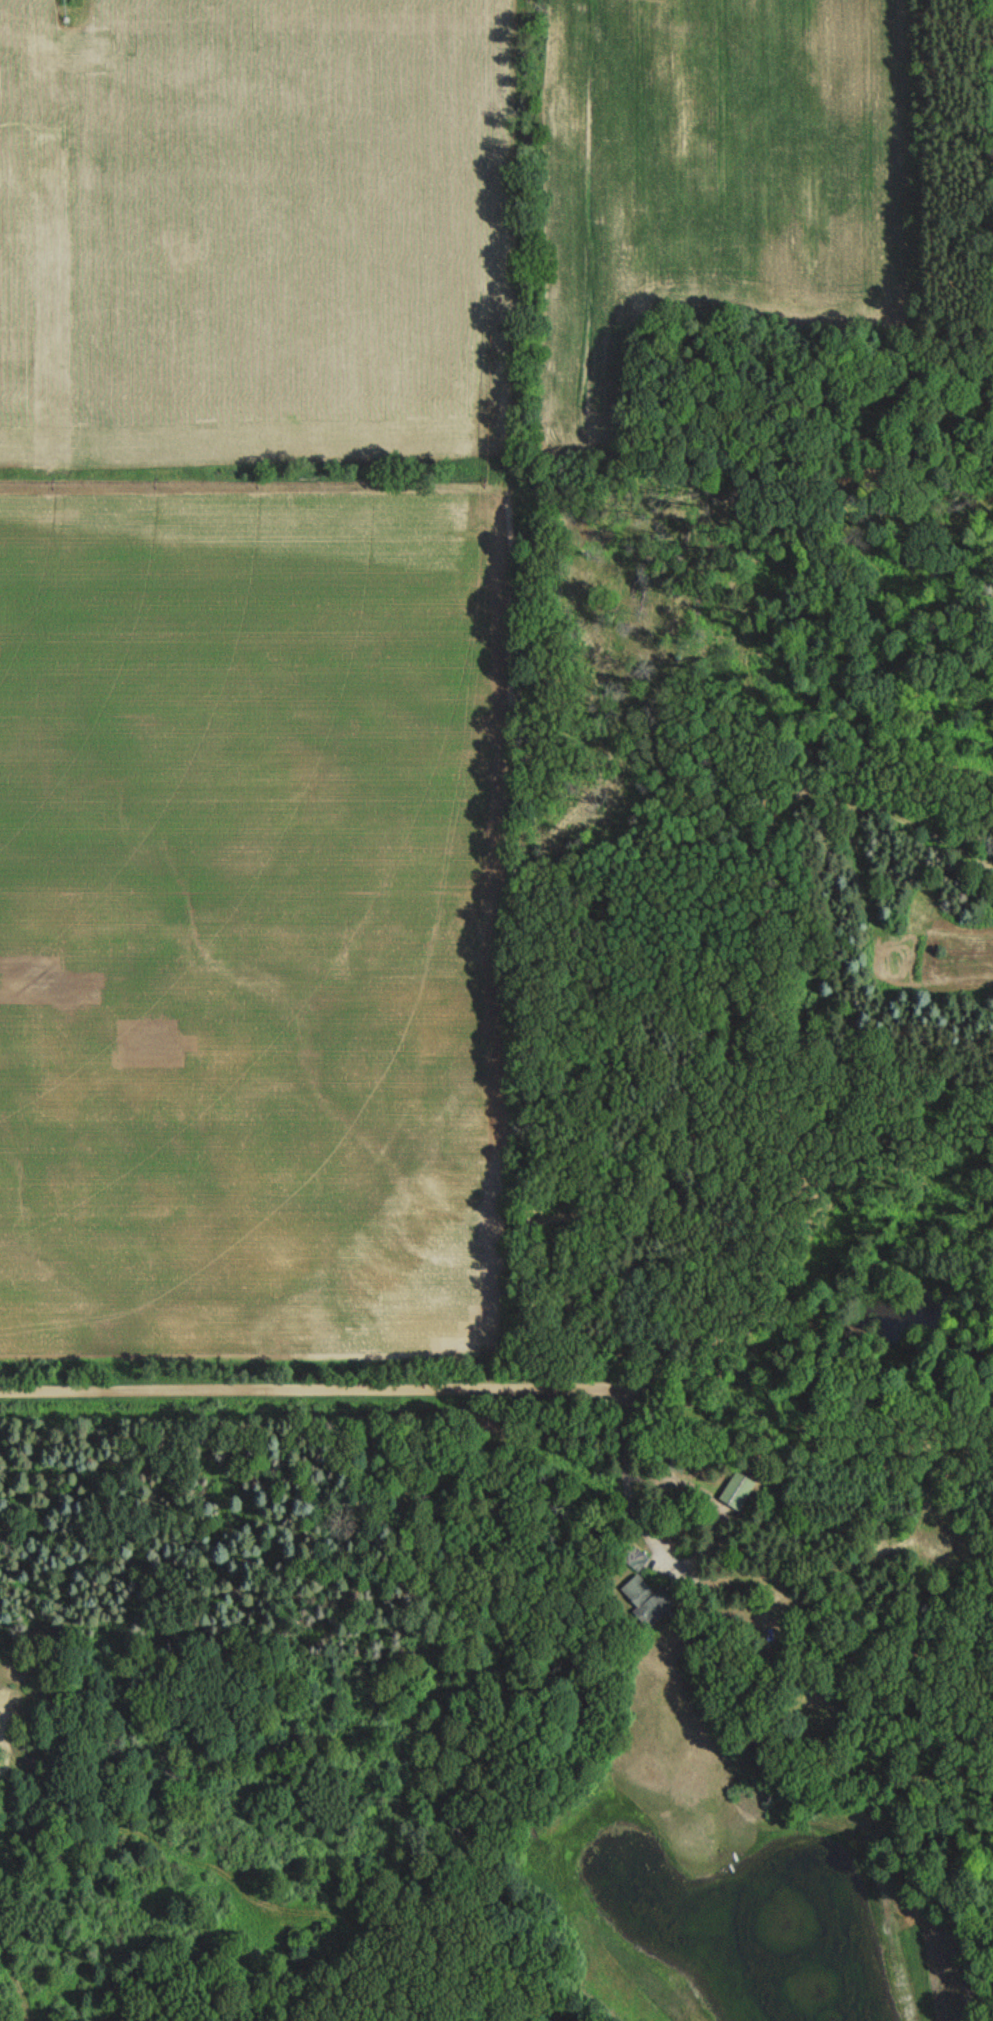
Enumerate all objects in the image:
road: (496, 1375)
building: (672, 1463)
road: (624, 1475)
building: (736, 1492)
building: (633, 1559)
building: (642, 1599)

